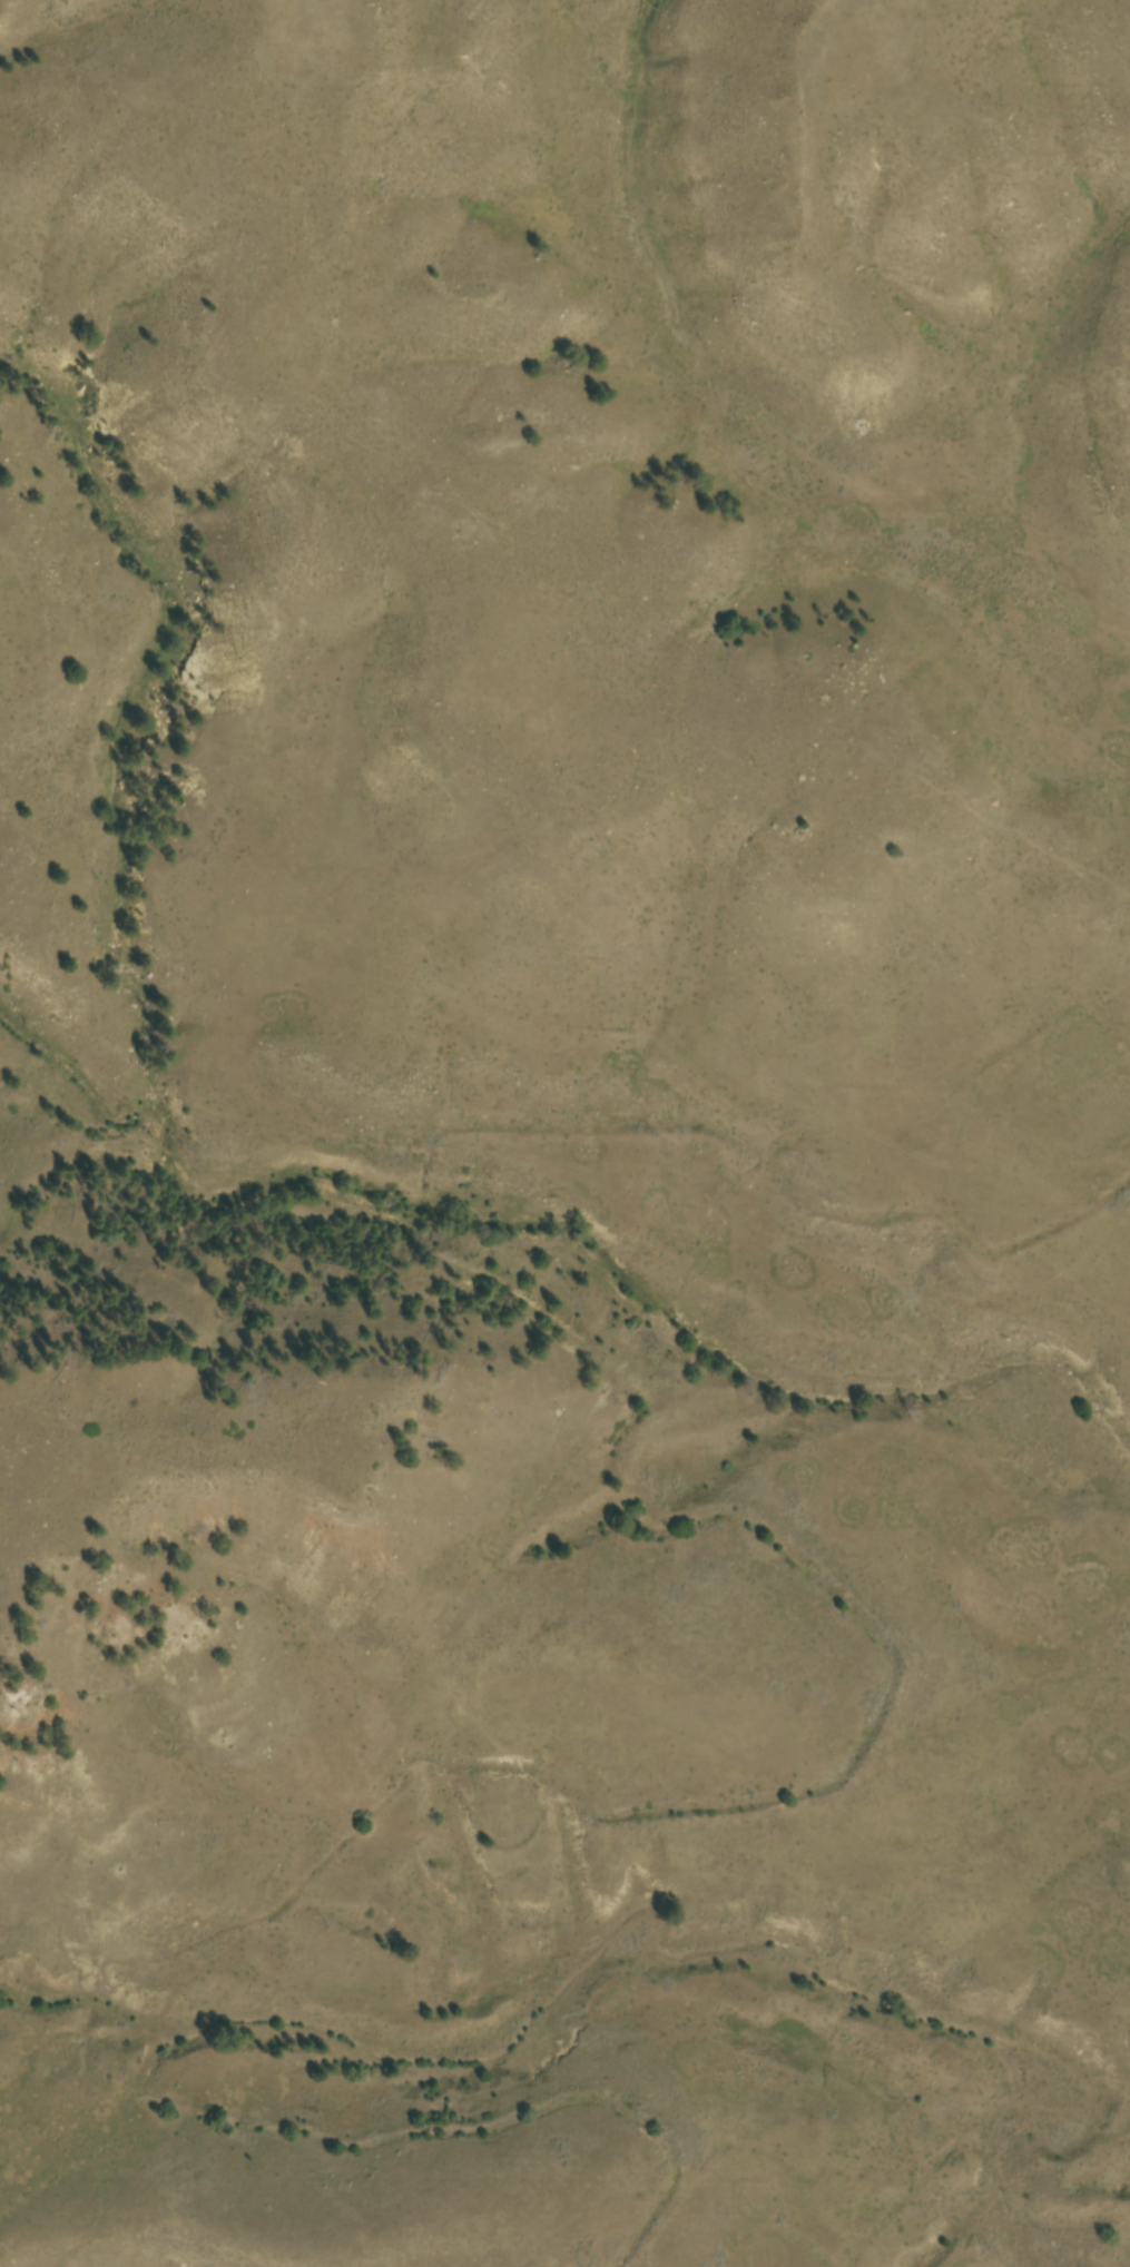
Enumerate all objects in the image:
park: (1122, 2261)

